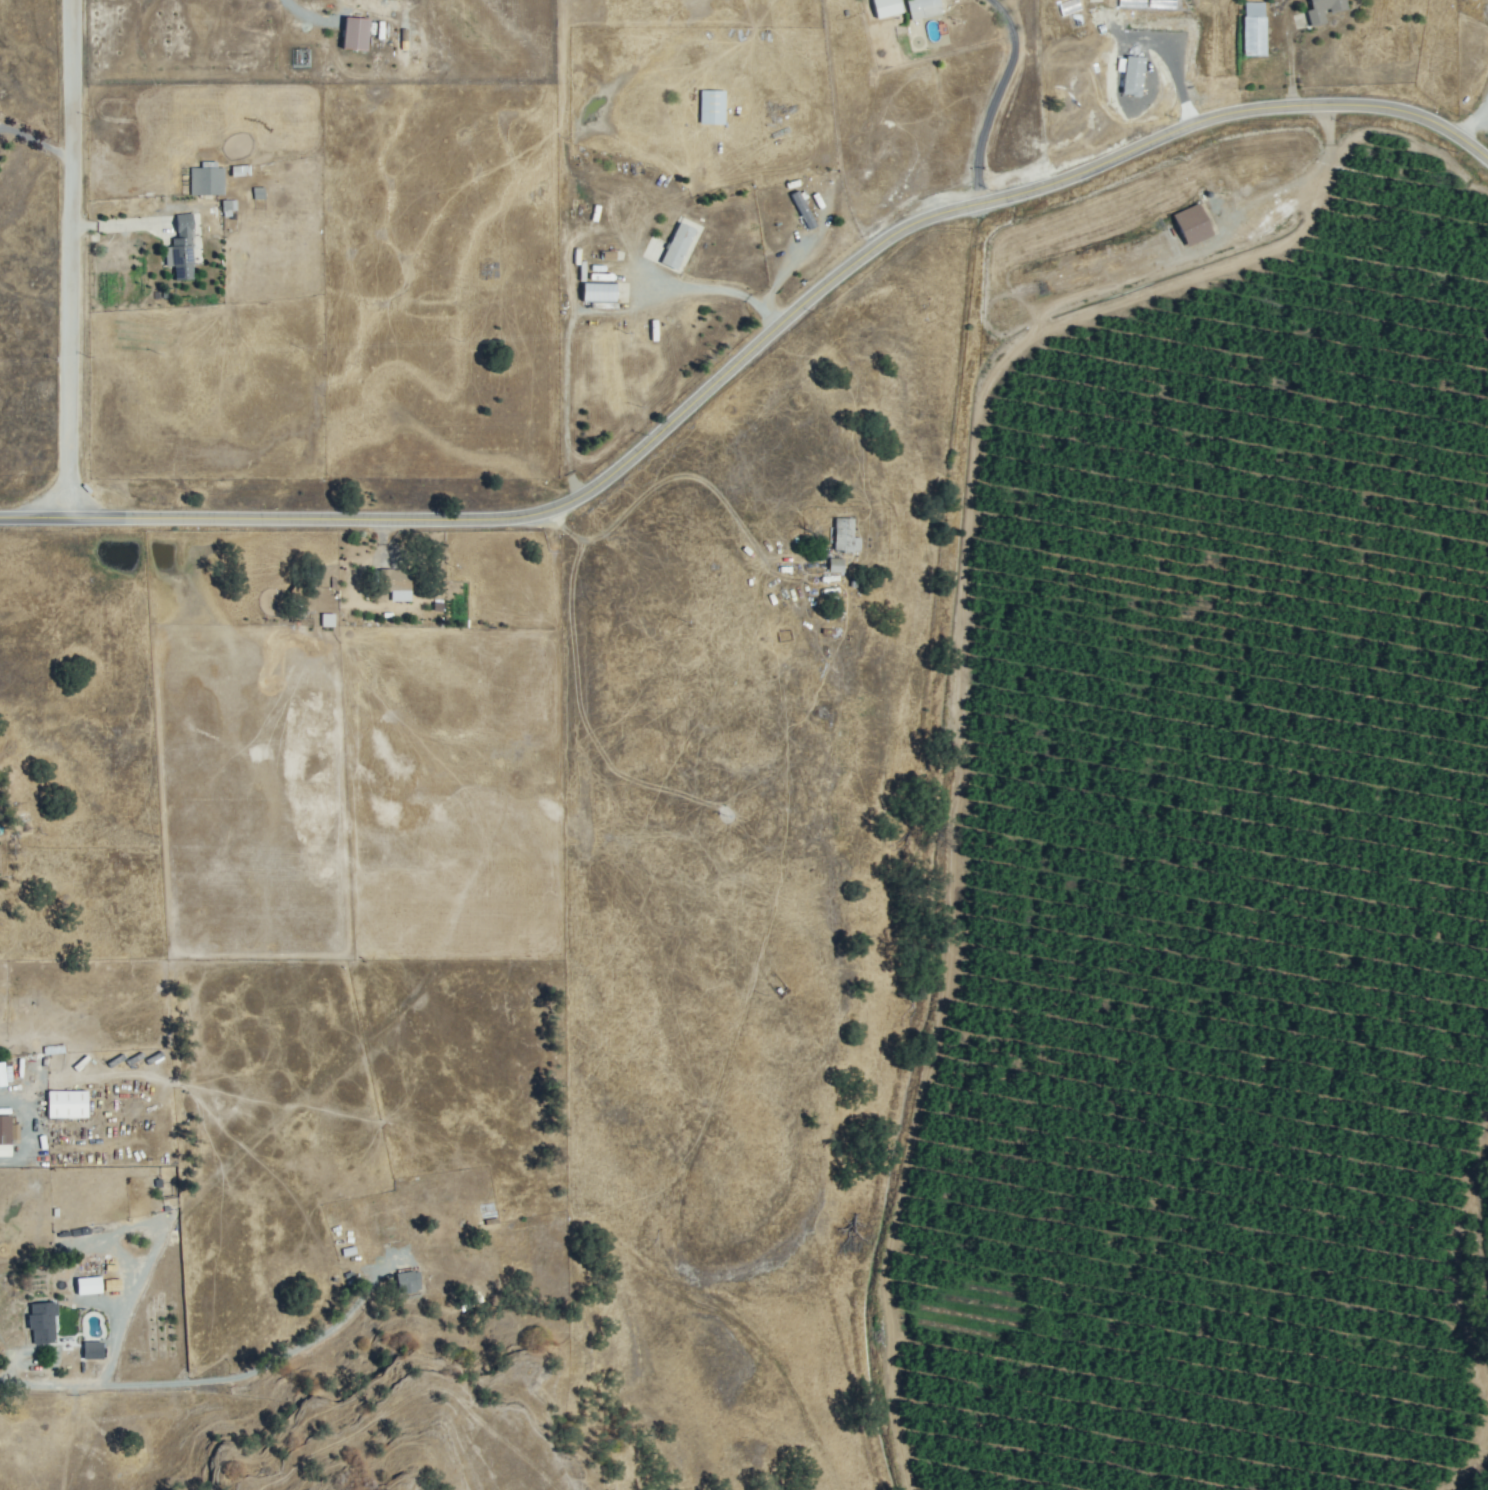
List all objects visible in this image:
building: (925, 8)
building: (1324, 9)
building: (1255, 32)
building: (357, 34)
road: (993, 101)
building: (714, 107)
road: (1476, 125)
road: (36, 143)
road: (1303, 180)
building: (209, 181)
building: (226, 209)
building: (804, 210)
building: (1193, 225)
building: (679, 247)
building: (183, 249)
road: (70, 260)
building: (600, 293)
road: (592, 313)
road: (753, 354)
building: (846, 535)
building: (838, 566)
building: (396, 580)
building: (1, 1076)
building: (69, 1105)
building: (5, 1130)
road: (3, 1158)
building: (393, 1227)
building: (407, 1283)
building: (90, 1286)
building: (44, 1323)
road: (307, 1339)
road: (107, 1385)

